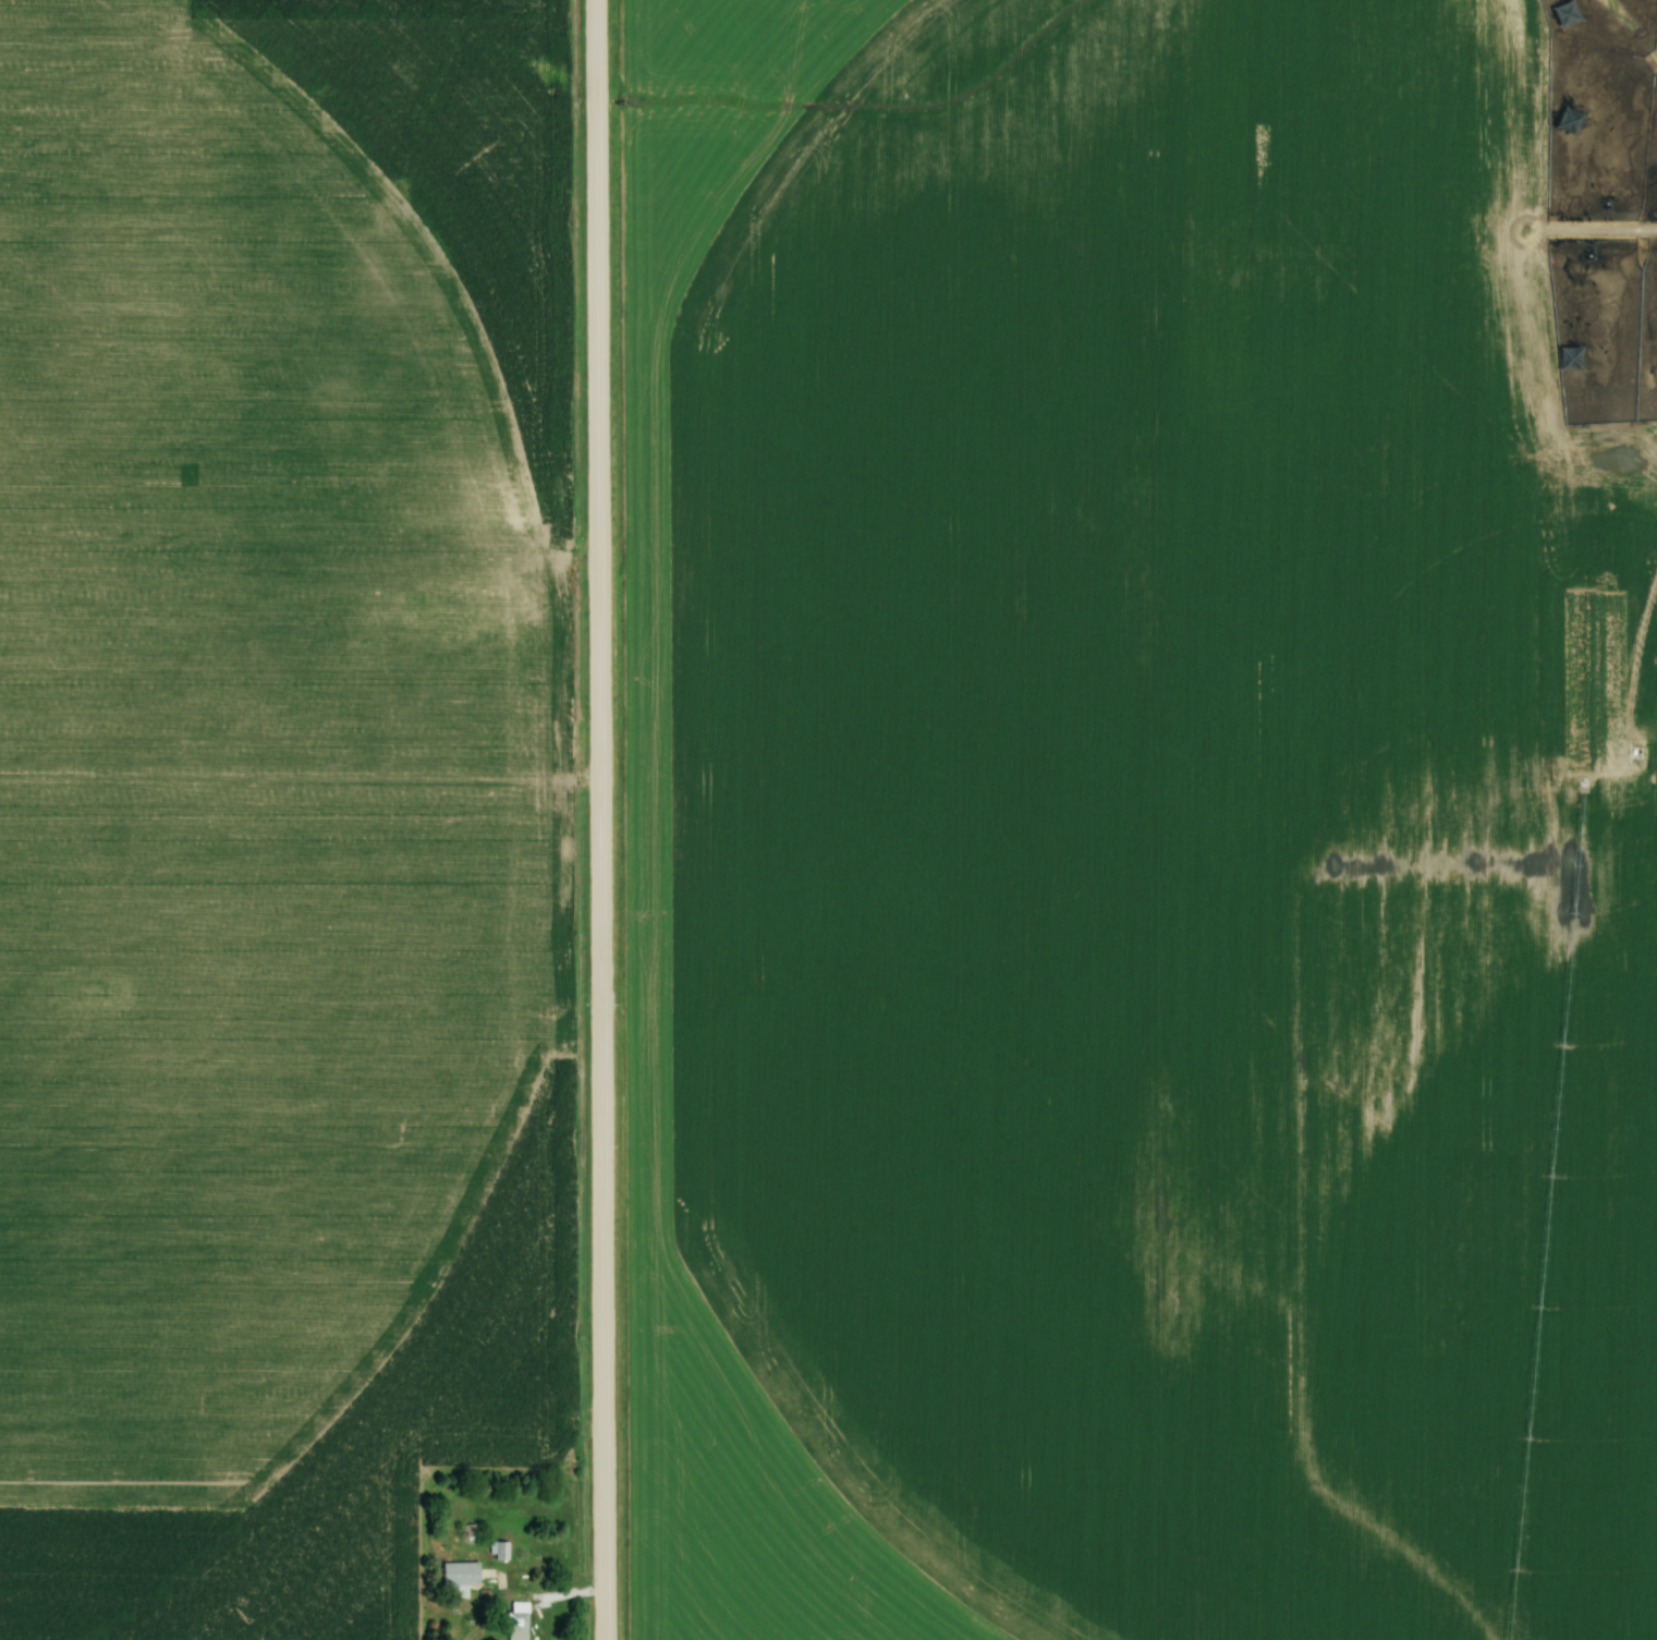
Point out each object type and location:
road: (598, 819)
building: (501, 1550)
building: (463, 1574)
building: (521, 1620)

